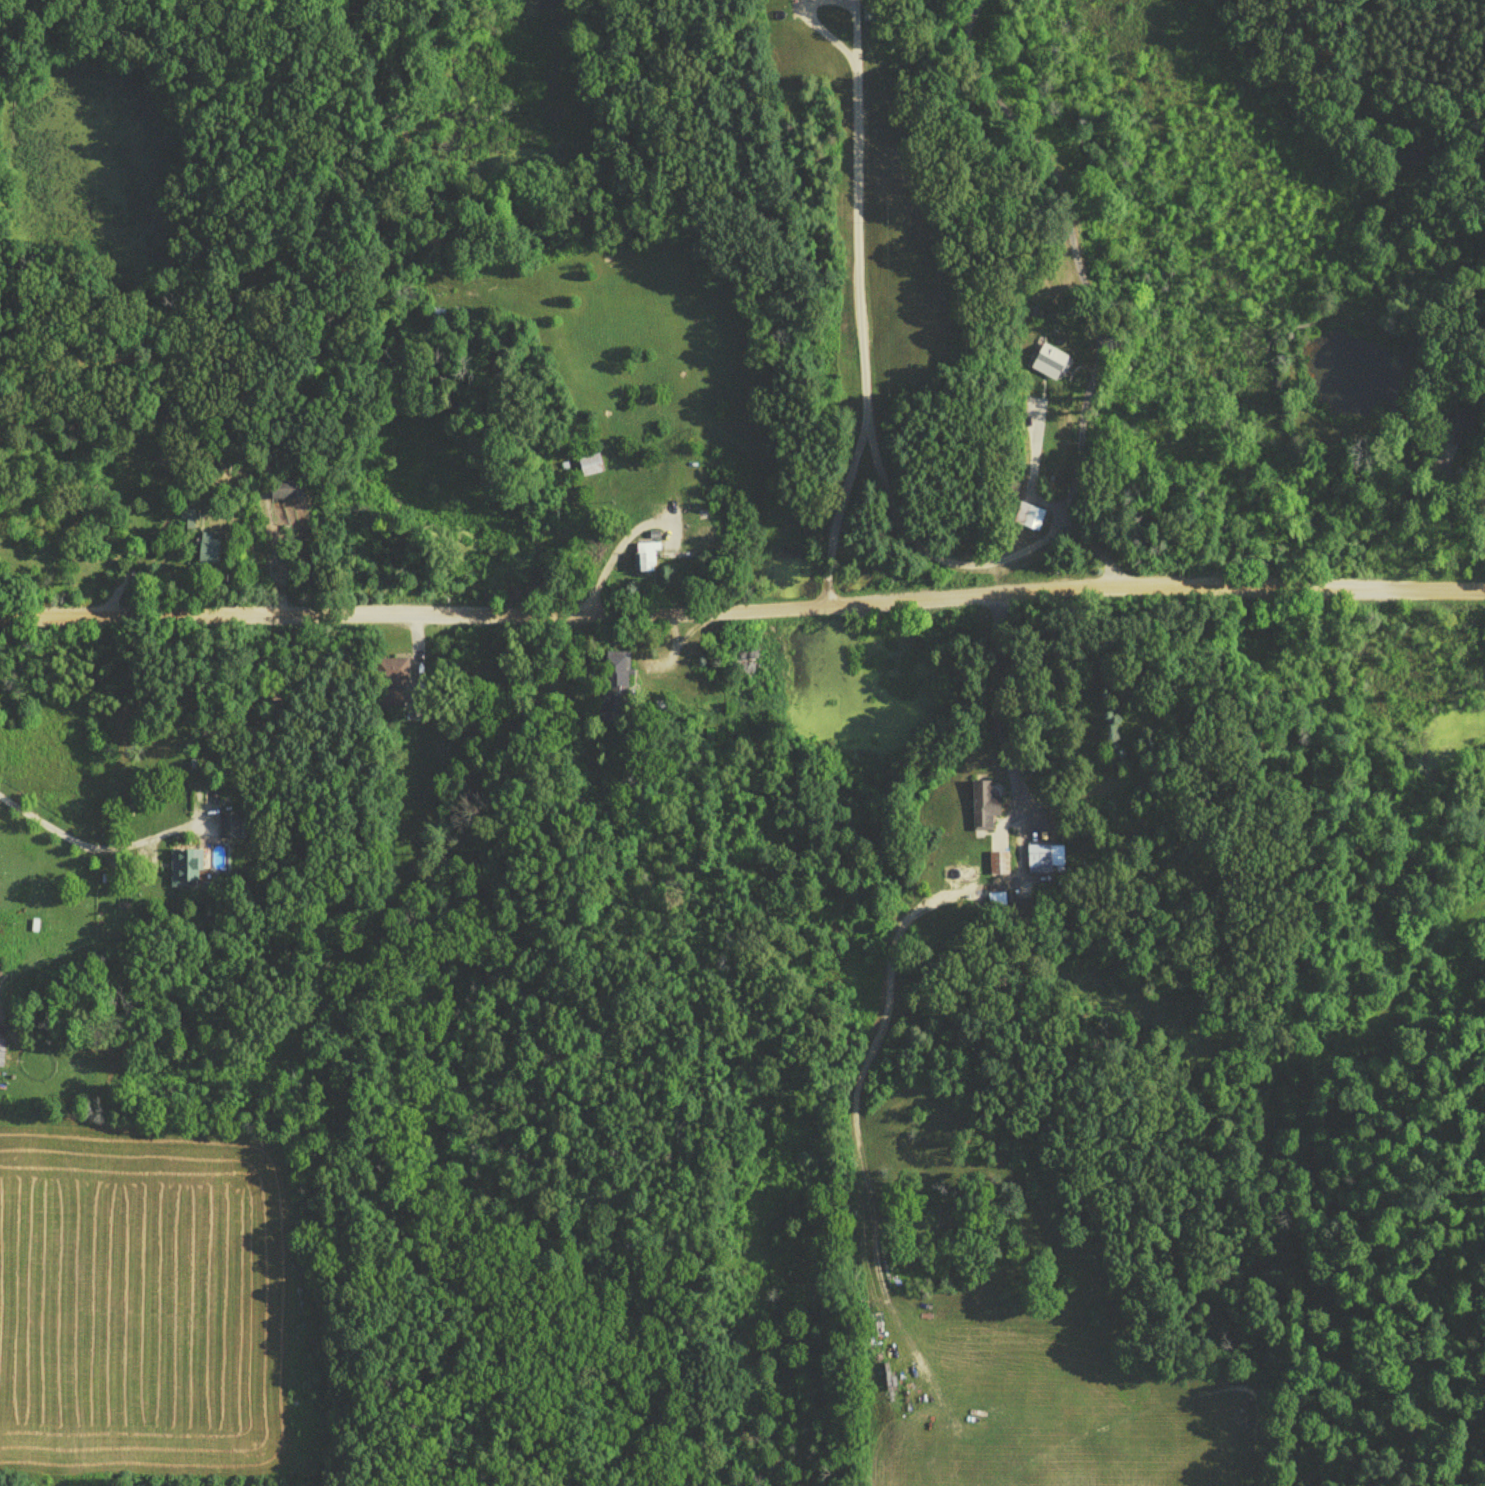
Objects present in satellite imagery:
road: (849, 57)
road: (1079, 288)
road: (860, 342)
building: (1041, 362)
road: (1031, 465)
building: (591, 469)
road: (1453, 485)
building: (283, 495)
road: (888, 511)
building: (1029, 521)
building: (208, 553)
road: (611, 555)
road: (1005, 557)
building: (646, 561)
road: (742, 616)
building: (743, 665)
building: (393, 676)
building: (615, 690)
road: (994, 718)
building: (984, 811)
building: (230, 829)
road: (75, 845)
building: (1044, 862)
building: (999, 866)
building: (185, 872)
building: (2, 1057)
road: (1300, 1211)

